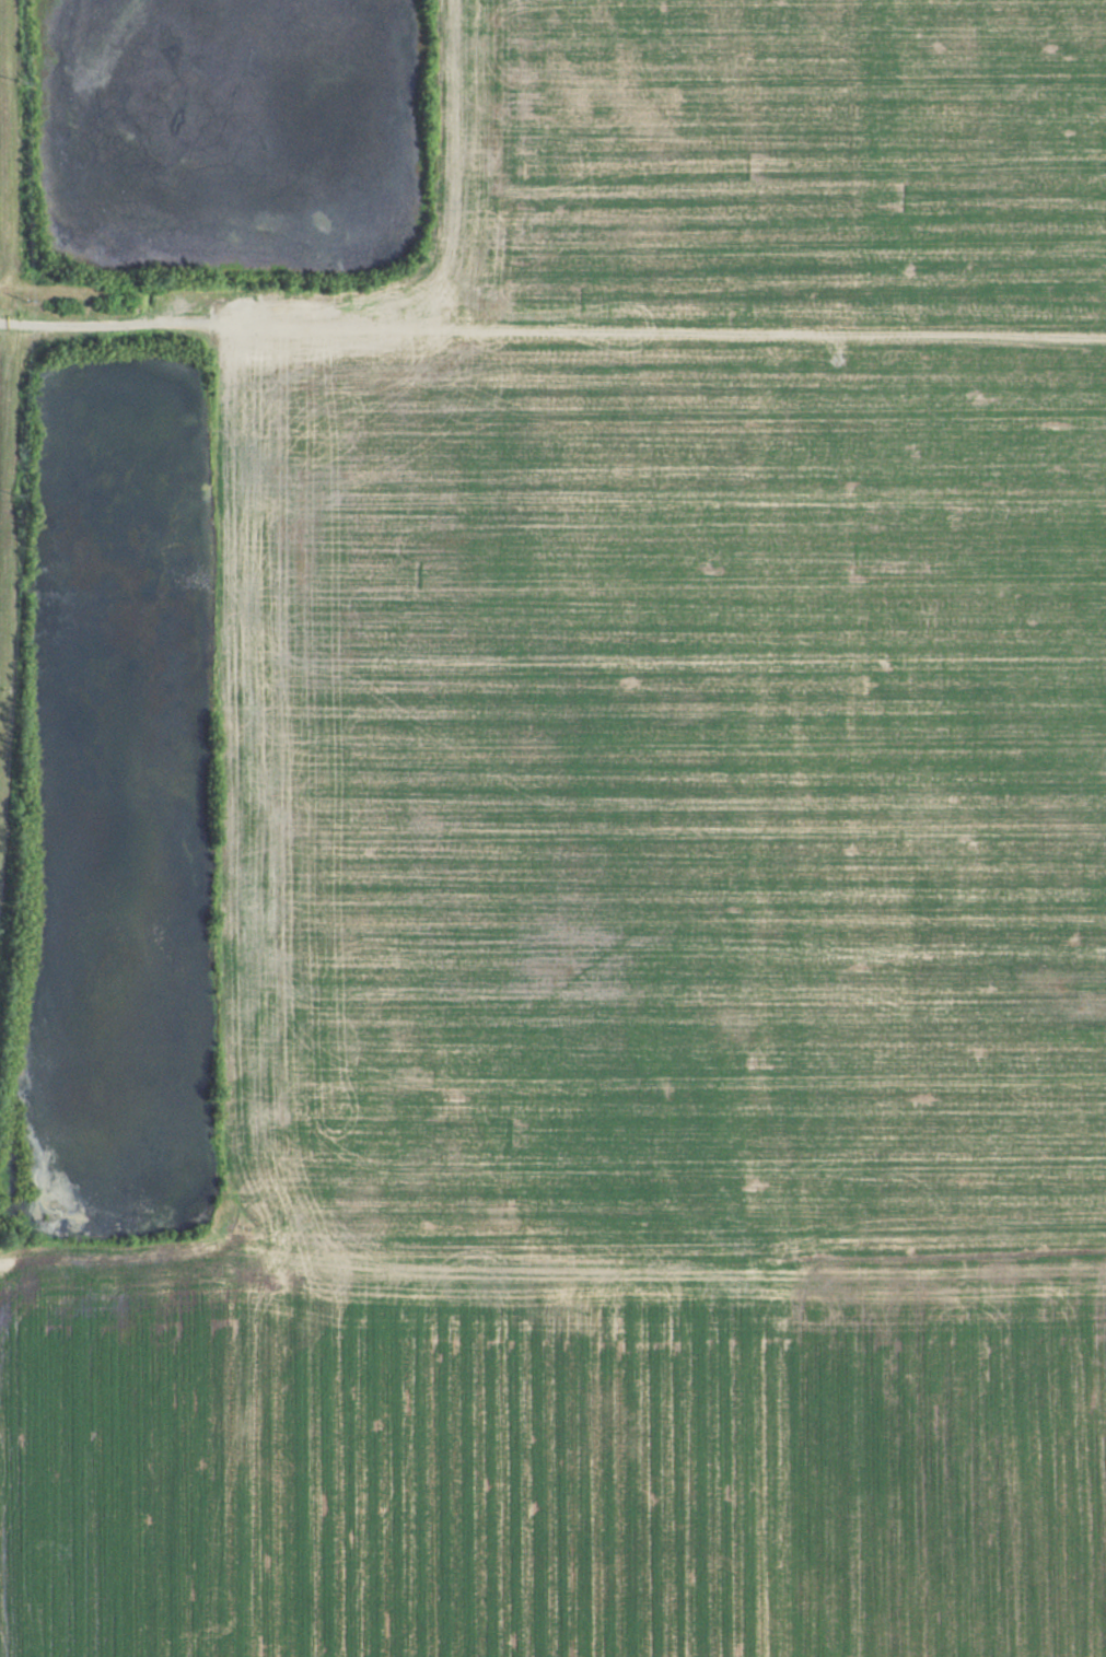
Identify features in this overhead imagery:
road: (554, 336)

